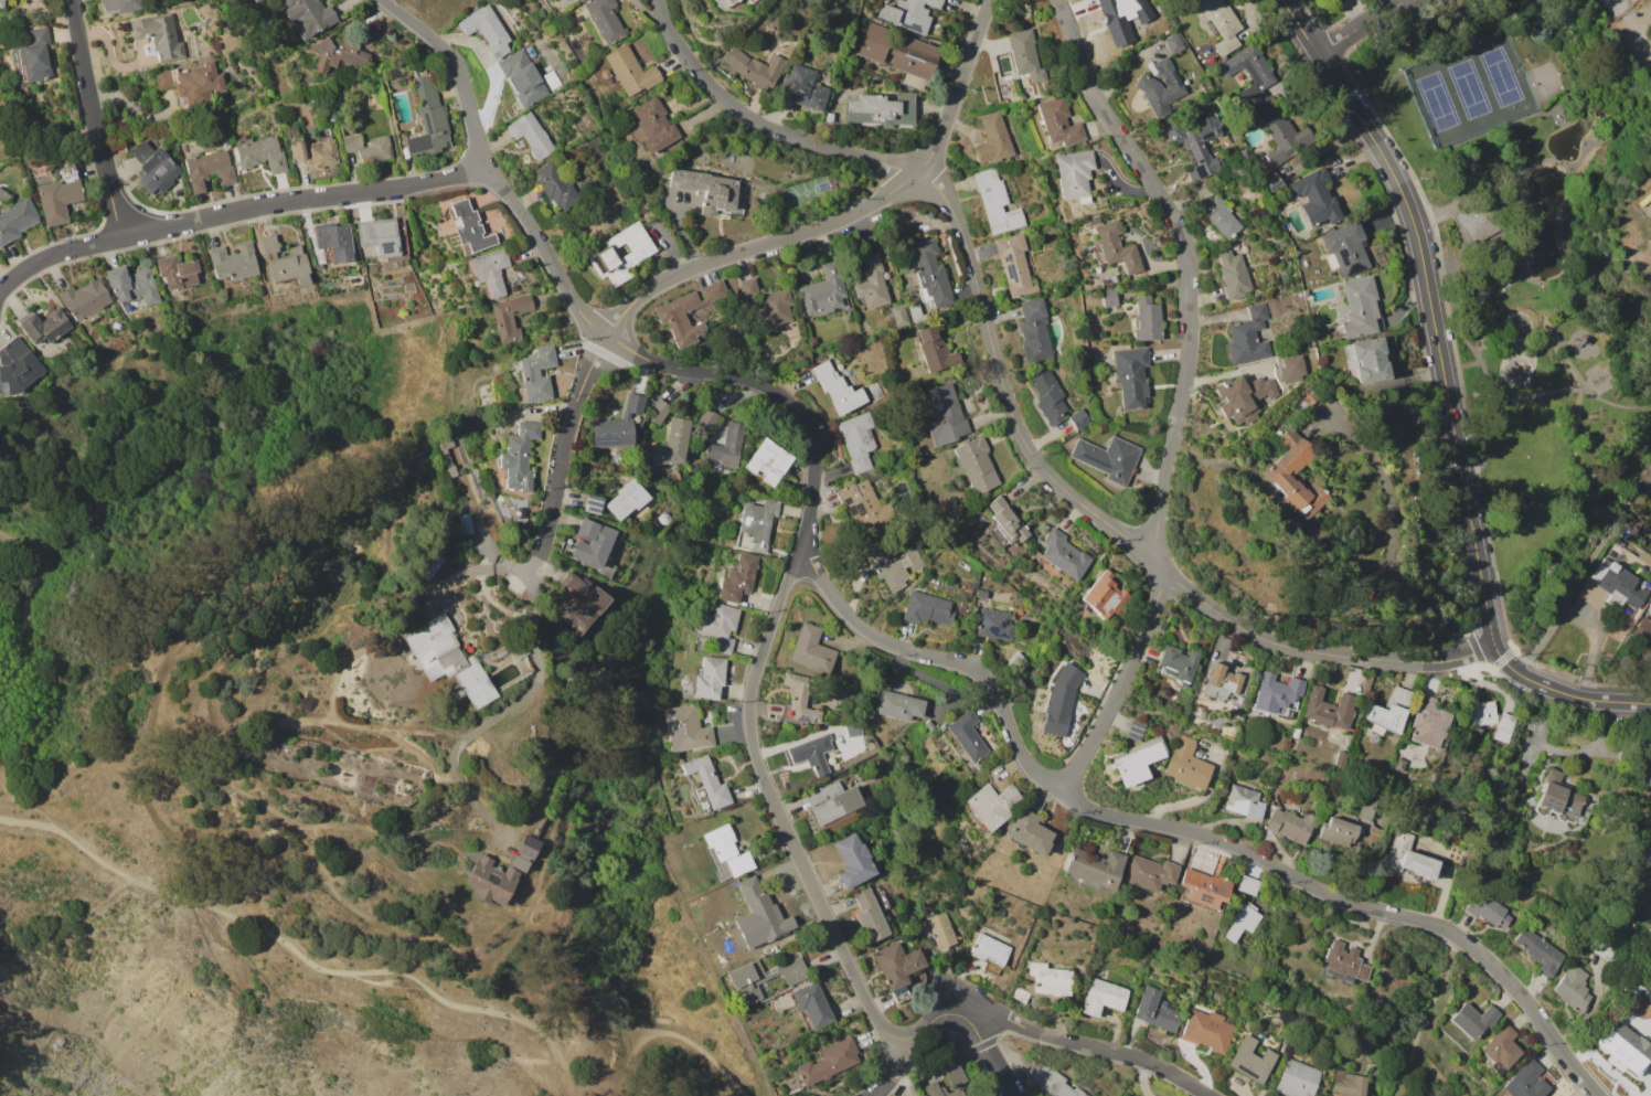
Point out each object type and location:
building: (253, 0)
building: (256, 0)
building: (580, 0)
building: (1336, 0)
building: (748, 1)
building: (723, 2)
building: (1, 3)
building: (119, 6)
building: (909, 13)
road: (1629, 13)
building: (308, 14)
building: (1119, 14)
building: (578, 18)
building: (1219, 18)
building: (605, 20)
road: (1363, 23)
road: (1645, 24)
building: (486, 29)
building: (158, 35)
building: (1171, 44)
building: (1226, 44)
road: (1643, 46)
building: (1650, 47)
building: (897, 50)
building: (339, 53)
building: (1024, 55)
building: (33, 57)
building: (547, 68)
building: (749, 68)
building: (355, 71)
building: (630, 71)
building: (394, 72)
building: (1249, 75)
building: (523, 76)
park: (1500, 76)
building: (552, 79)
building: (192, 83)
park: (1544, 83)
building: (802, 87)
building: (1160, 87)
building: (1206, 87)
park: (1468, 88)
park: (1437, 100)
building: (880, 109)
road: (1556, 115)
building: (829, 116)
road: (93, 118)
building: (428, 119)
building: (1058, 121)
building: (652, 125)
road: (51, 126)
park: (36, 129)
road: (1511, 134)
building: (531, 135)
building: (992, 139)
building: (1285, 139)
building: (351, 141)
building: (1197, 143)
building: (376, 149)
building: (260, 153)
building: (315, 153)
road: (1453, 163)
building: (68, 166)
building: (155, 168)
building: (209, 169)
building: (1075, 174)
road: (1573, 174)
building: (1271, 181)
building: (556, 183)
building: (711, 191)
building: (1206, 191)
building: (3, 195)
building: (58, 195)
road: (1503, 198)
road: (1523, 198)
building: (1318, 199)
road: (300, 200)
building: (998, 203)
building: (1221, 217)
building: (1471, 217)
building: (15, 219)
building: (470, 227)
building: (503, 233)
building: (384, 236)
building: (333, 242)
building: (268, 244)
building: (1115, 244)
building: (1346, 248)
building: (620, 253)
road: (736, 253)
road: (54, 254)
building: (887, 254)
road: (1449, 258)
road: (1420, 260)
building: (234, 262)
building: (1014, 265)
building: (289, 266)
building: (319, 266)
road: (1434, 268)
building: (179, 272)
building: (490, 272)
park: (1517, 274)
building: (929, 275)
building: (1233, 275)
building: (1114, 278)
building: (1064, 281)
road: (1542, 283)
building: (872, 284)
building: (132, 285)
building: (749, 288)
building: (825, 291)
building: (999, 294)
building: (1108, 298)
building: (85, 299)
building: (776, 306)
building: (1361, 308)
building: (916, 313)
building: (899, 315)
building: (509, 317)
building: (671, 317)
building: (1147, 319)
building: (43, 324)
building: (1034, 330)
building: (1248, 336)
road: (1563, 344)
road: (1480, 345)
building: (935, 350)
building: (795, 357)
building: (1082, 361)
building: (1370, 361)
building: (17, 366)
road: (1460, 366)
building: (1291, 369)
road: (1573, 369)
building: (537, 373)
road: (1484, 373)
building: (1130, 377)
building: (838, 389)
building: (873, 389)
road: (1579, 389)
road: (1569, 390)
road: (1179, 393)
road: (1534, 395)
building: (1308, 396)
building: (1048, 397)
building: (1245, 397)
road: (1504, 400)
building: (635, 403)
building: (1297, 405)
road: (1008, 407)
building: (1394, 411)
building: (658, 412)
building: (946, 415)
building: (1079, 419)
building: (707, 421)
building: (611, 432)
building: (858, 440)
building: (669, 445)
building: (726, 448)
building: (446, 454)
building: (519, 455)
building: (1107, 457)
building: (768, 461)
building: (614, 462)
building: (976, 465)
building: (673, 472)
building: (1276, 472)
building: (1647, 478)
building: (573, 481)
building: (627, 499)
building: (593, 504)
building: (862, 504)
building: (663, 519)
building: (1006, 521)
building: (466, 523)
building: (1631, 523)
building: (756, 525)
road: (1391, 538)
building: (595, 547)
building: (1063, 554)
building: (1611, 554)
building: (430, 565)
building: (895, 566)
building: (737, 579)
building: (951, 584)
building: (1618, 584)
building: (981, 594)
building: (1104, 596)
building: (578, 602)
road: (1568, 602)
building: (1649, 607)
road: (24, 608)
building: (926, 609)
park: (167, 619)
building: (993, 625)
building: (720, 626)
building: (1641, 640)
road: (877, 642)
building: (512, 648)
building: (811, 649)
building: (448, 659)
building: (1176, 664)
road: (1521, 675)
building: (709, 678)
building: (1224, 679)
building: (1276, 695)
building: (1061, 700)
building: (798, 701)
building: (898, 705)
building: (1328, 710)
building: (1389, 711)
building: (1289, 713)
building: (1481, 713)
building: (1428, 722)
building: (930, 725)
building: (1503, 726)
building: (685, 728)
building: (853, 728)
building: (967, 735)
building: (812, 753)
building: (1340, 758)
building: (1137, 760)
building: (1186, 765)
building: (1398, 765)
building: (707, 785)
building: (1558, 798)
building: (832, 801)
building: (1244, 801)
road: (776, 806)
building: (990, 806)
building: (1364, 808)
building: (1290, 824)
building: (1339, 832)
building: (1029, 833)
building: (726, 852)
park: (1645, 853)
building: (1409, 858)
building: (853, 861)
building: (1094, 868)
building: (486, 869)
building: (1149, 873)
building: (1250, 886)
road: (1448, 888)
building: (1205, 890)
building: (1488, 909)
building: (870, 915)
building: (768, 918)
building: (1243, 921)
building: (941, 930)
building: (1538, 950)
building: (990, 953)
road: (306, 957)
building: (1344, 962)
building: (897, 965)
building: (761, 978)
building: (1051, 979)
building: (1574, 988)
building: (1021, 996)
building: (1104, 997)
building: (812, 1004)
building: (1155, 1009)
building: (1473, 1020)
building: (1207, 1031)
road: (1054, 1038)
road: (685, 1039)
building: (1501, 1047)
building: (1623, 1047)
road: (991, 1053)
building: (1249, 1061)
building: (829, 1062)
road: (894, 1070)
building: (956, 1076)
building: (1297, 1079)
building: (1053, 1081)
building: (1524, 1082)
building: (1348, 1084)
building: (940, 1090)
building: (1130, 1095)
building: (1132, 1095)

